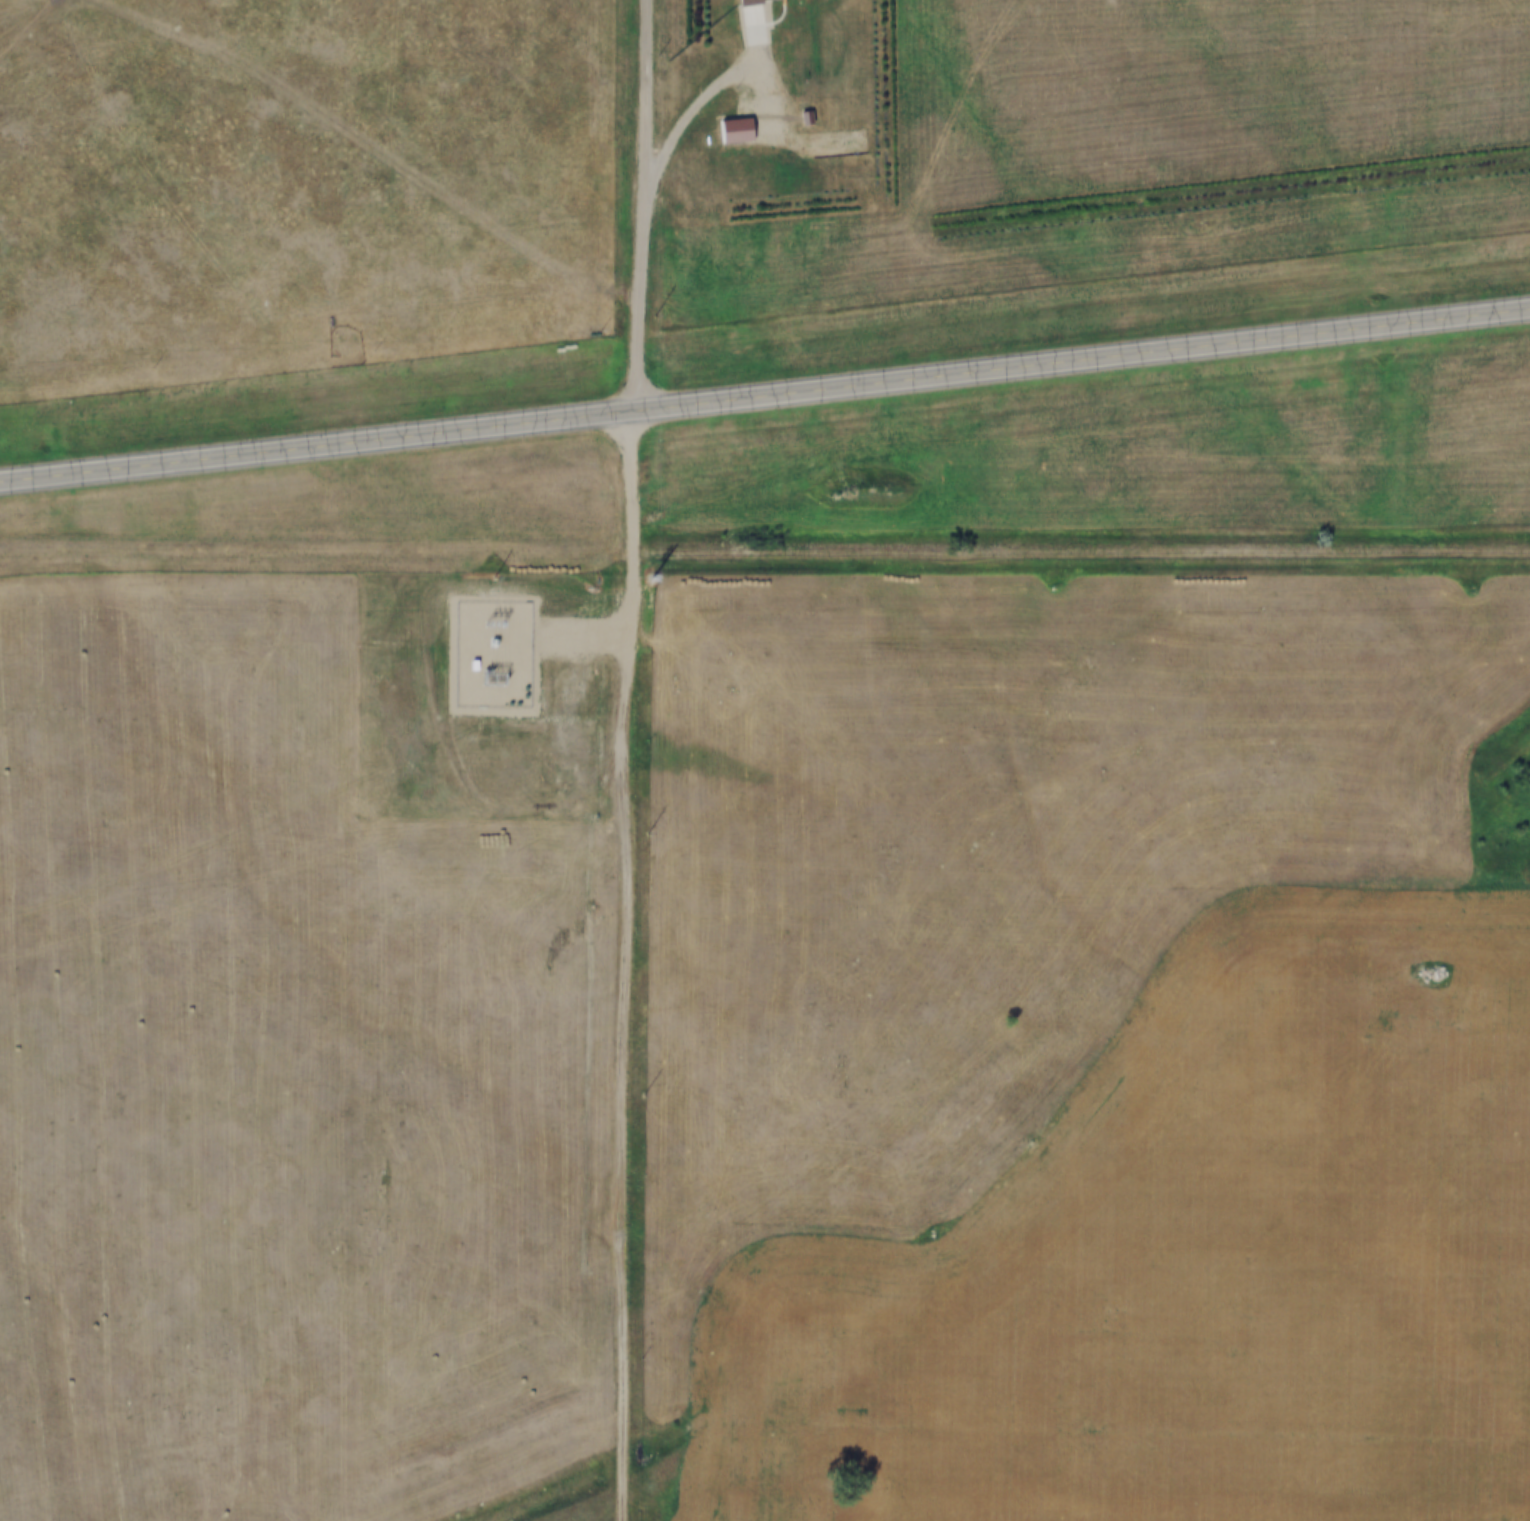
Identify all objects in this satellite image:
building: (754, 1)
building: (739, 131)
road: (641, 205)
road: (765, 396)
road: (1082, 555)
road: (628, 964)

